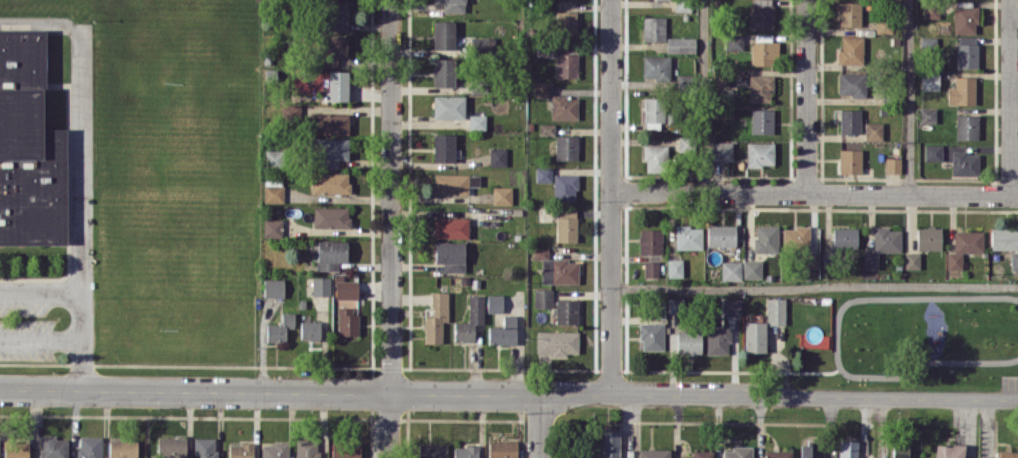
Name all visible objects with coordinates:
building: (451, 5)
building: (931, 9)
building: (849, 13)
building: (336, 15)
building: (761, 16)
building: (965, 17)
road: (44, 19)
building: (565, 21)
building: (883, 25)
building: (653, 28)
building: (443, 34)
building: (734, 41)
building: (928, 43)
building: (680, 44)
building: (332, 49)
building: (762, 50)
building: (850, 50)
building: (966, 51)
building: (565, 64)
building: (655, 67)
building: (443, 72)
building: (930, 81)
building: (851, 83)
building: (337, 85)
building: (760, 88)
building: (541, 89)
building: (961, 91)
road: (704, 95)
road: (807, 96)
road: (910, 97)
road: (1012, 97)
building: (448, 106)
building: (564, 107)
building: (289, 111)
building: (653, 113)
building: (927, 114)
building: (761, 120)
building: (476, 121)
building: (849, 121)
building: (330, 123)
building: (966, 126)
building: (546, 129)
building: (873, 130)
building: (28, 146)
building: (443, 147)
building: (566, 147)
building: (721, 150)
building: (330, 151)
building: (932, 152)
building: (759, 153)
building: (497, 156)
building: (654, 158)
road: (82, 160)
building: (849, 161)
building: (964, 163)
building: (892, 164)
building: (543, 174)
building: (329, 182)
building: (449, 184)
building: (564, 187)
building: (273, 192)
road: (815, 193)
building: (501, 195)
road: (391, 196)
road: (613, 196)
building: (331, 216)
building: (566, 224)
building: (272, 227)
building: (450, 227)
building: (720, 235)
building: (688, 237)
building: (844, 237)
building: (928, 237)
building: (765, 238)
building: (796, 238)
building: (1004, 238)
building: (650, 240)
building: (882, 245)
building: (964, 246)
building: (330, 254)
building: (450, 255)
building: (911, 260)
building: (1014, 260)
building: (674, 267)
building: (556, 268)
building: (650, 268)
building: (751, 268)
building: (730, 270)
building: (320, 285)
road: (815, 286)
building: (273, 287)
building: (346, 289)
building: (542, 297)
road: (81, 298)
building: (494, 302)
building: (731, 306)
building: (566, 311)
building: (775, 311)
building: (435, 317)
building: (470, 319)
building: (347, 320)
building: (280, 327)
building: (310, 330)
building: (503, 331)
building: (651, 336)
building: (754, 336)
building: (718, 340)
park: (924, 340)
road: (41, 341)
building: (556, 342)
building: (684, 342)
road: (509, 393)
road: (391, 425)
road: (541, 426)
road: (970, 428)
building: (609, 443)
building: (89, 446)
building: (171, 446)
building: (53, 447)
building: (205, 447)
building: (122, 448)
building: (306, 448)
building: (16, 449)
building: (346, 449)
building: (502, 449)
building: (847, 449)
building: (241, 450)
building: (274, 450)
building: (432, 450)
building: (465, 451)
building: (809, 451)
building: (899, 451)
building: (948, 451)
building: (737, 452)
building: (653, 453)
building: (777, 453)
building: (699, 454)
building: (1008, 454)
building: (576, 456)

